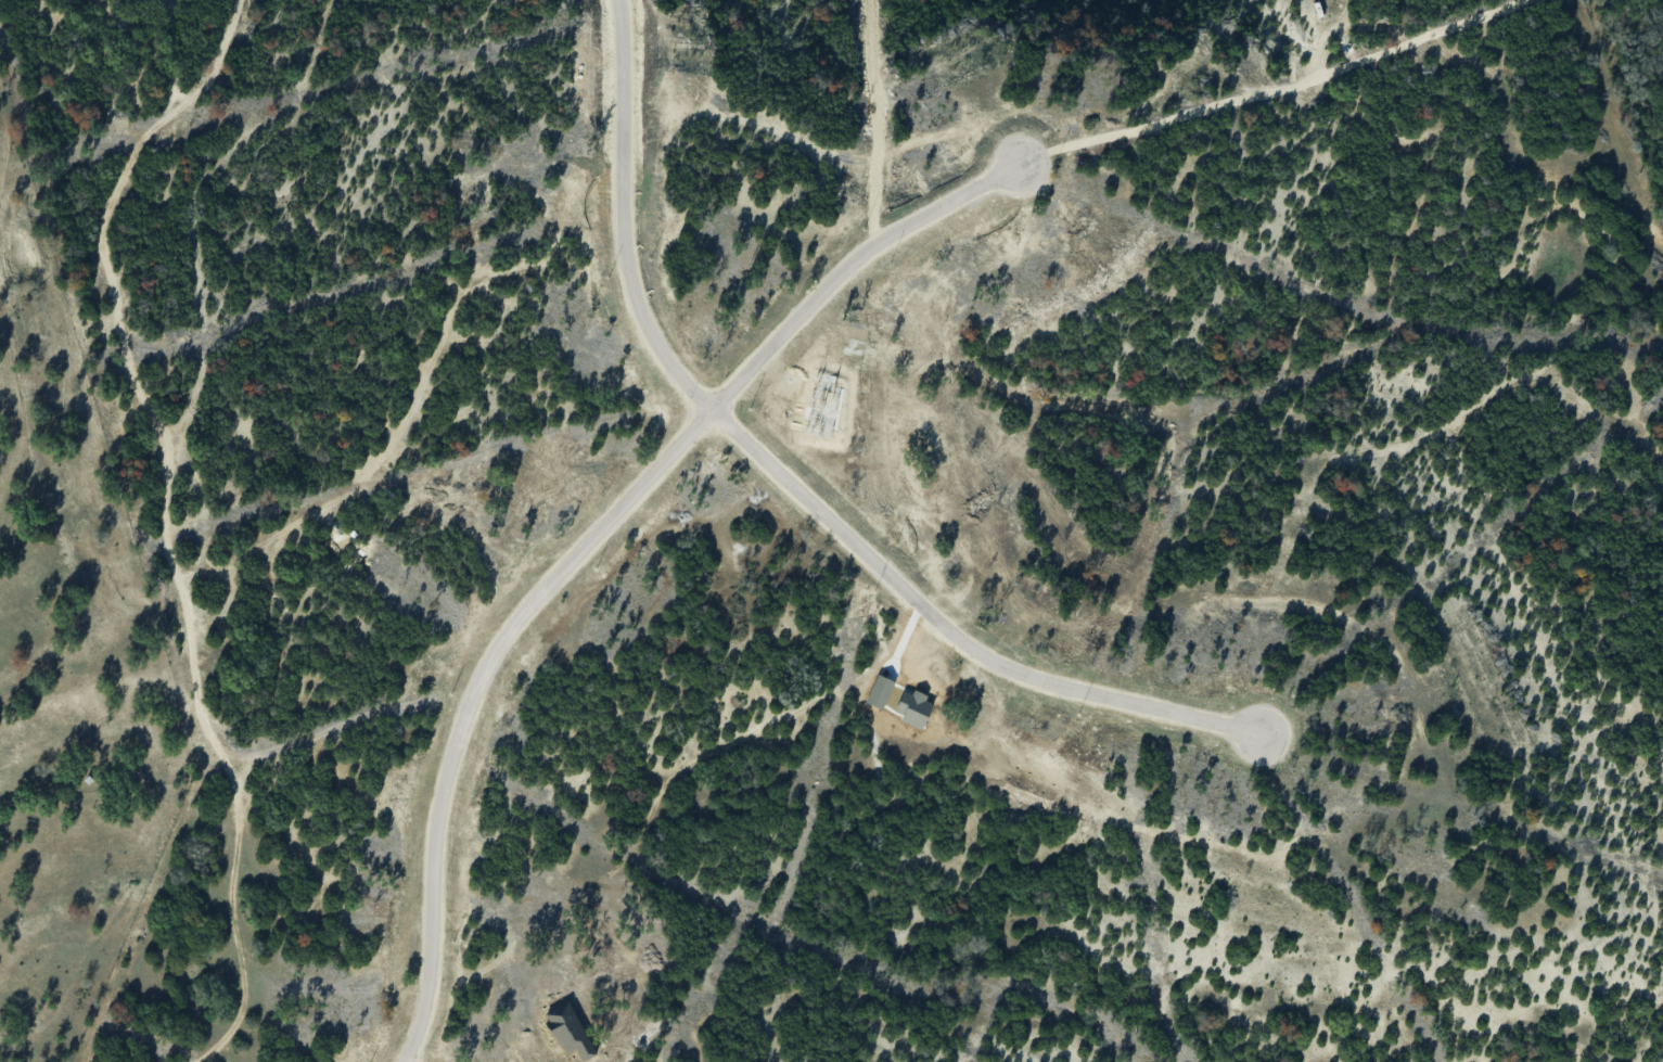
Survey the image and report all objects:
road: (791, 487)
road: (594, 541)

